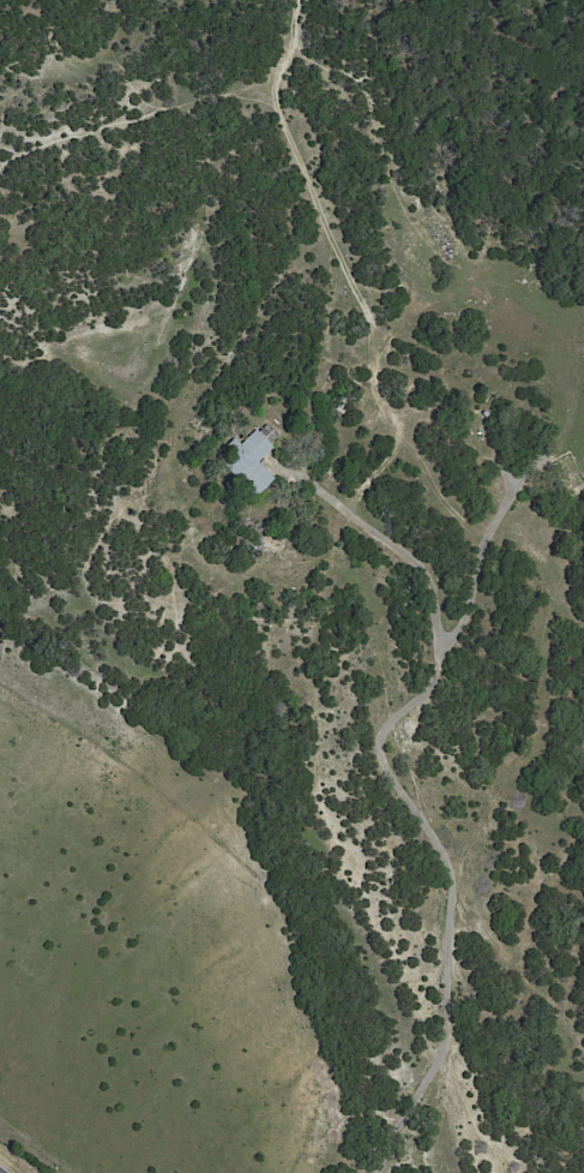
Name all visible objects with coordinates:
building: (341, 407)
building: (486, 413)
building: (483, 430)
building: (251, 457)
building: (571, 475)
road: (390, 537)
road: (445, 891)
road: (1, 1171)

